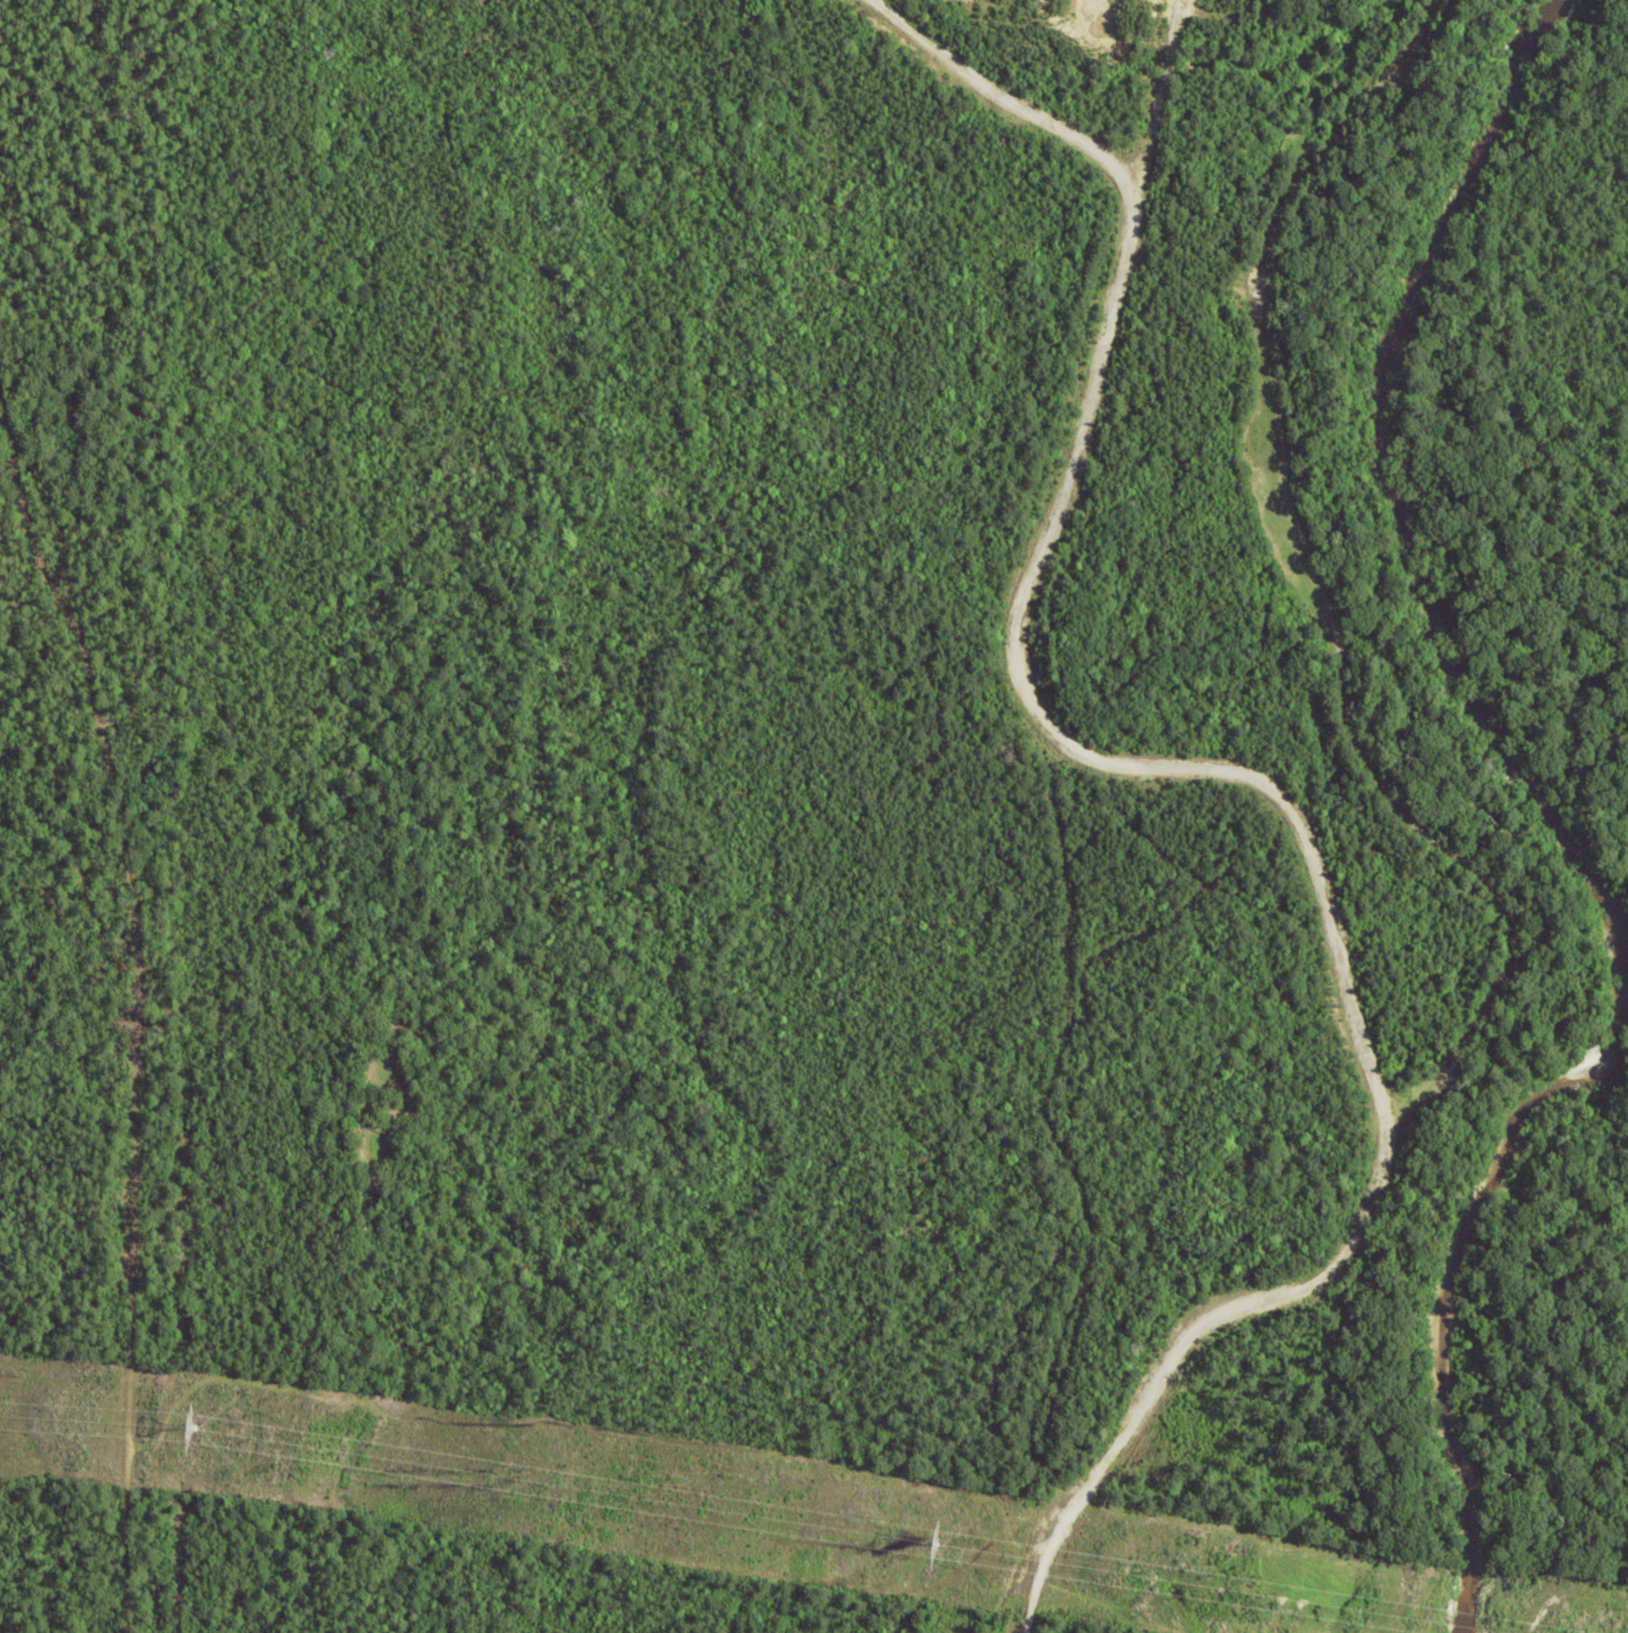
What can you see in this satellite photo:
river: (1388, 481)
road: (1240, 819)
road: (143, 994)
river: (1448, 1294)
power tower: (192, 1425)
power tower: (212, 1438)
power tower: (941, 1543)
power tower: (960, 1552)

